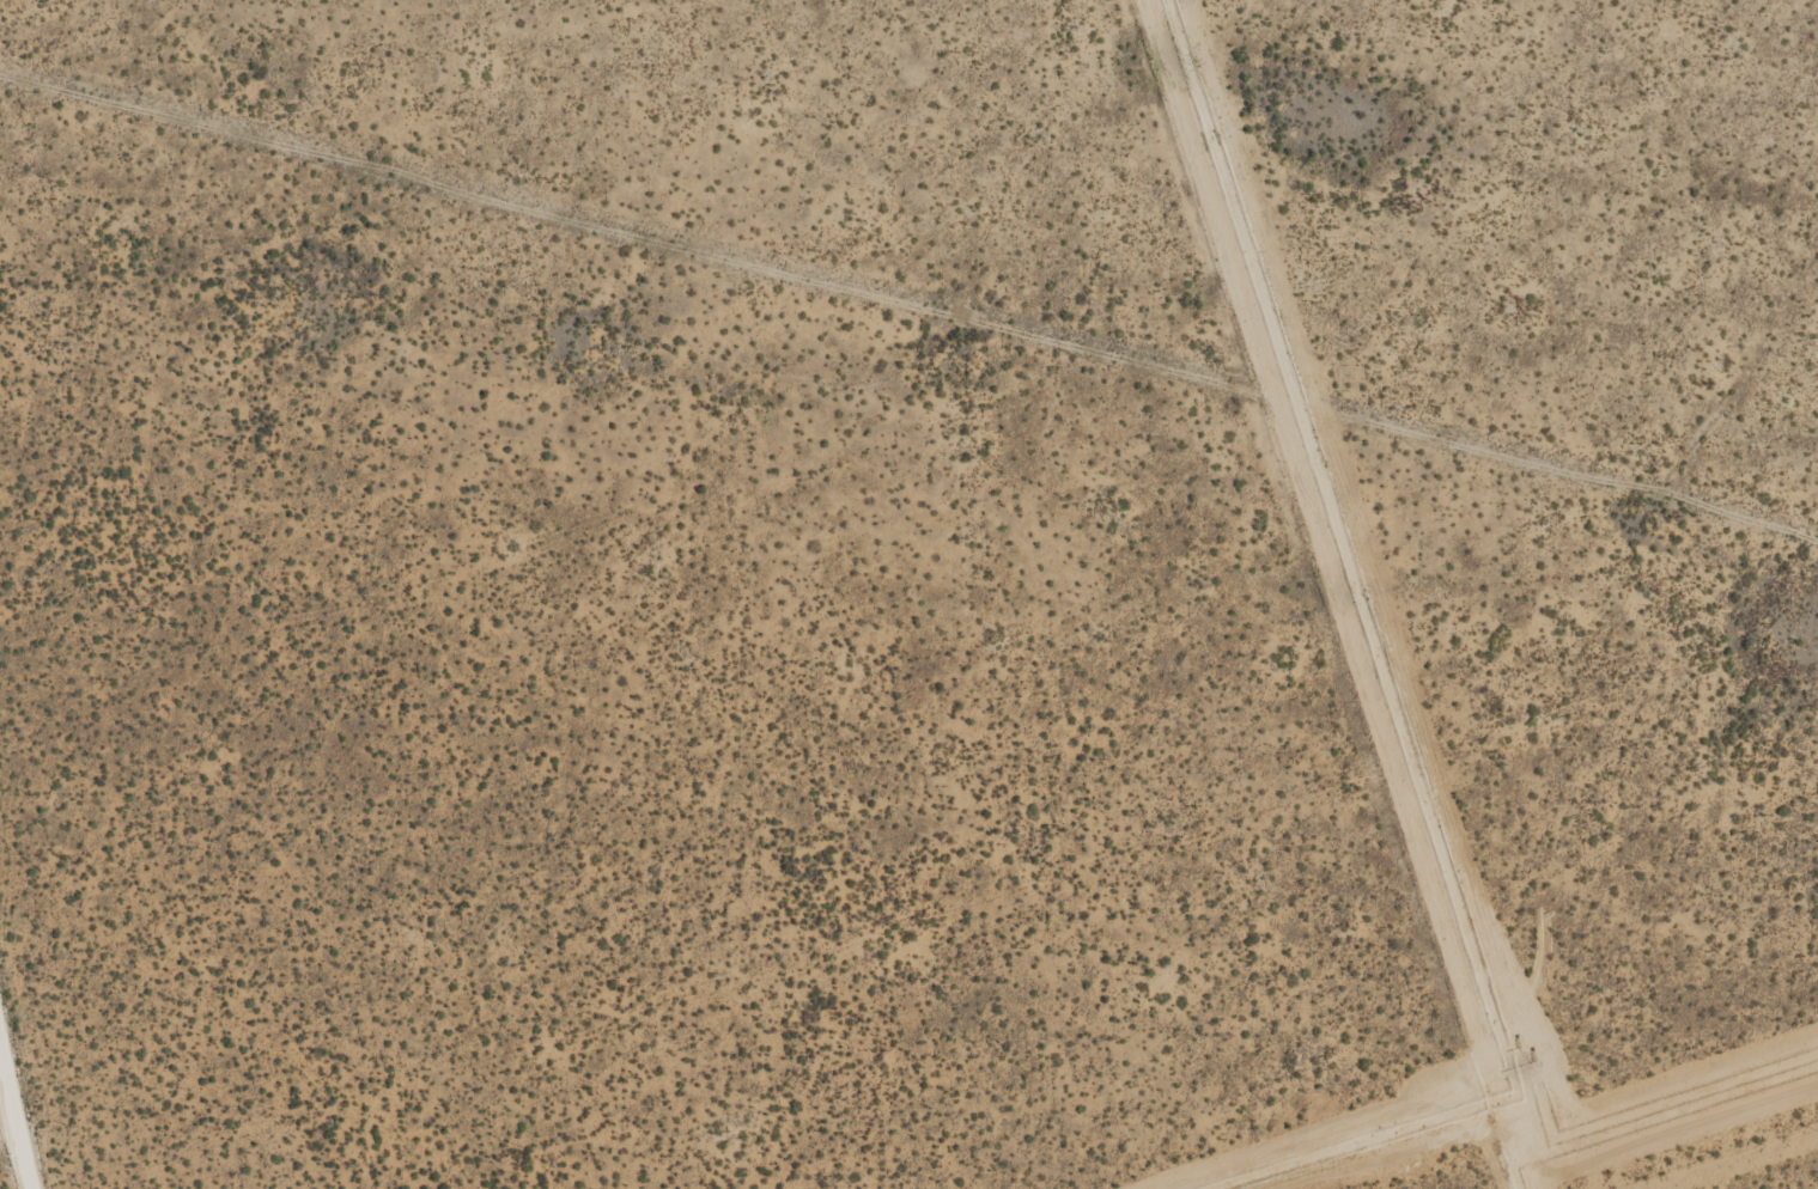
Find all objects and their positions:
road: (910, 325)
road: (14, 1121)

